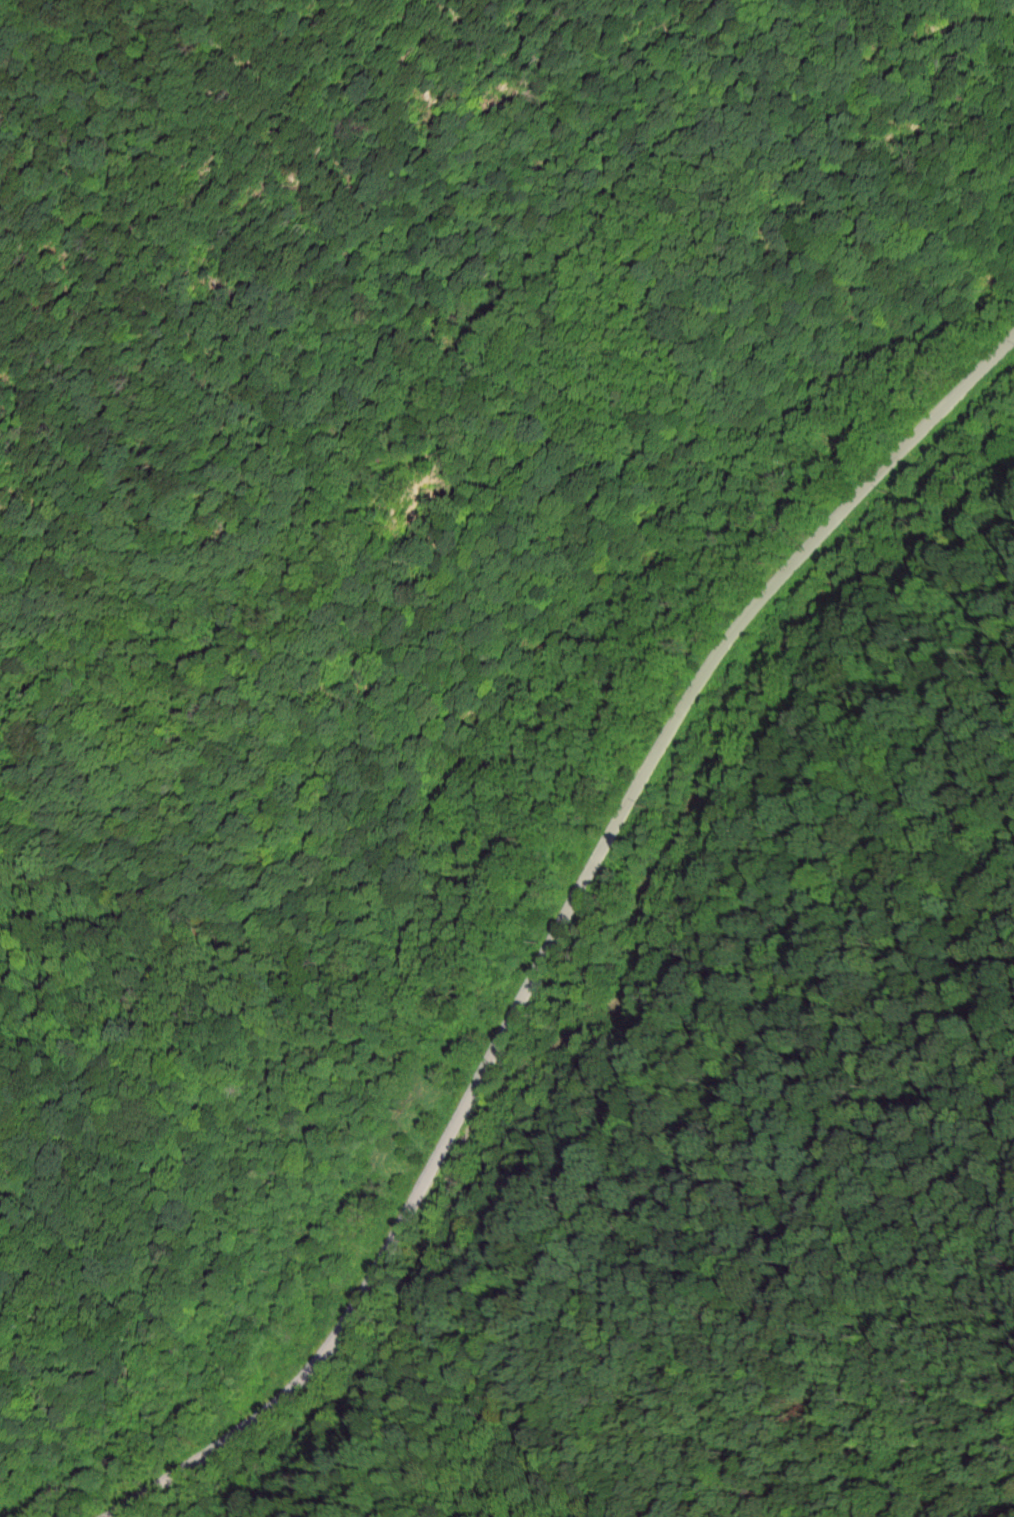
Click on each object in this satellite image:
road: (616, 819)
road: (204, 1444)

